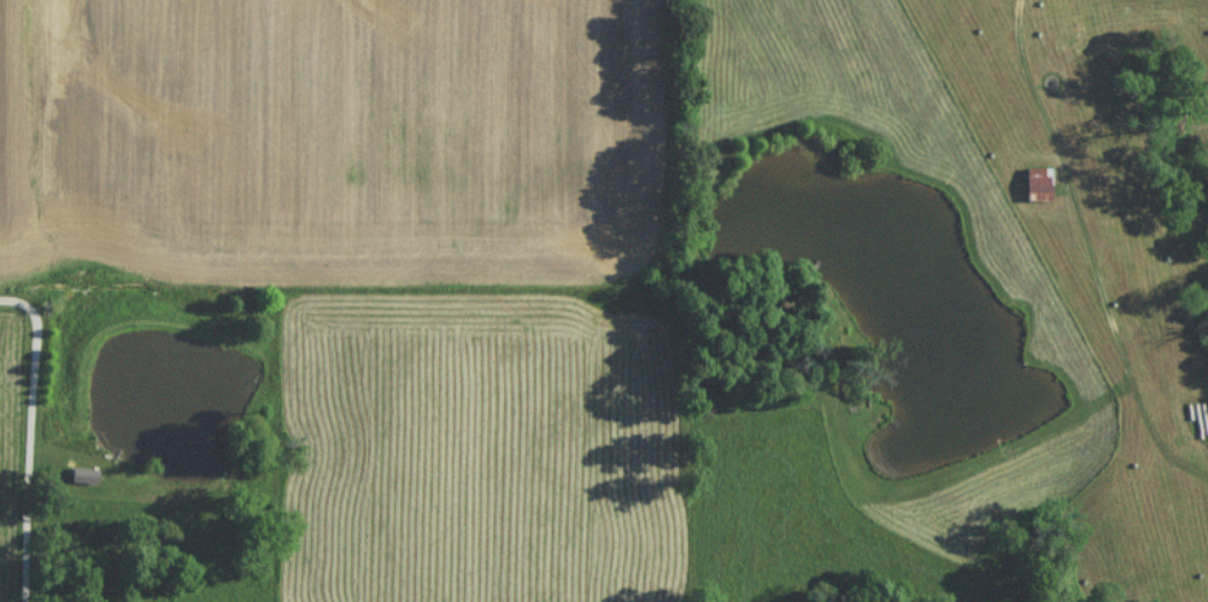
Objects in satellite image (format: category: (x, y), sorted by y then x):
building: (1040, 190)
road: (14, 303)
building: (1194, 426)
road: (31, 454)
building: (84, 482)

